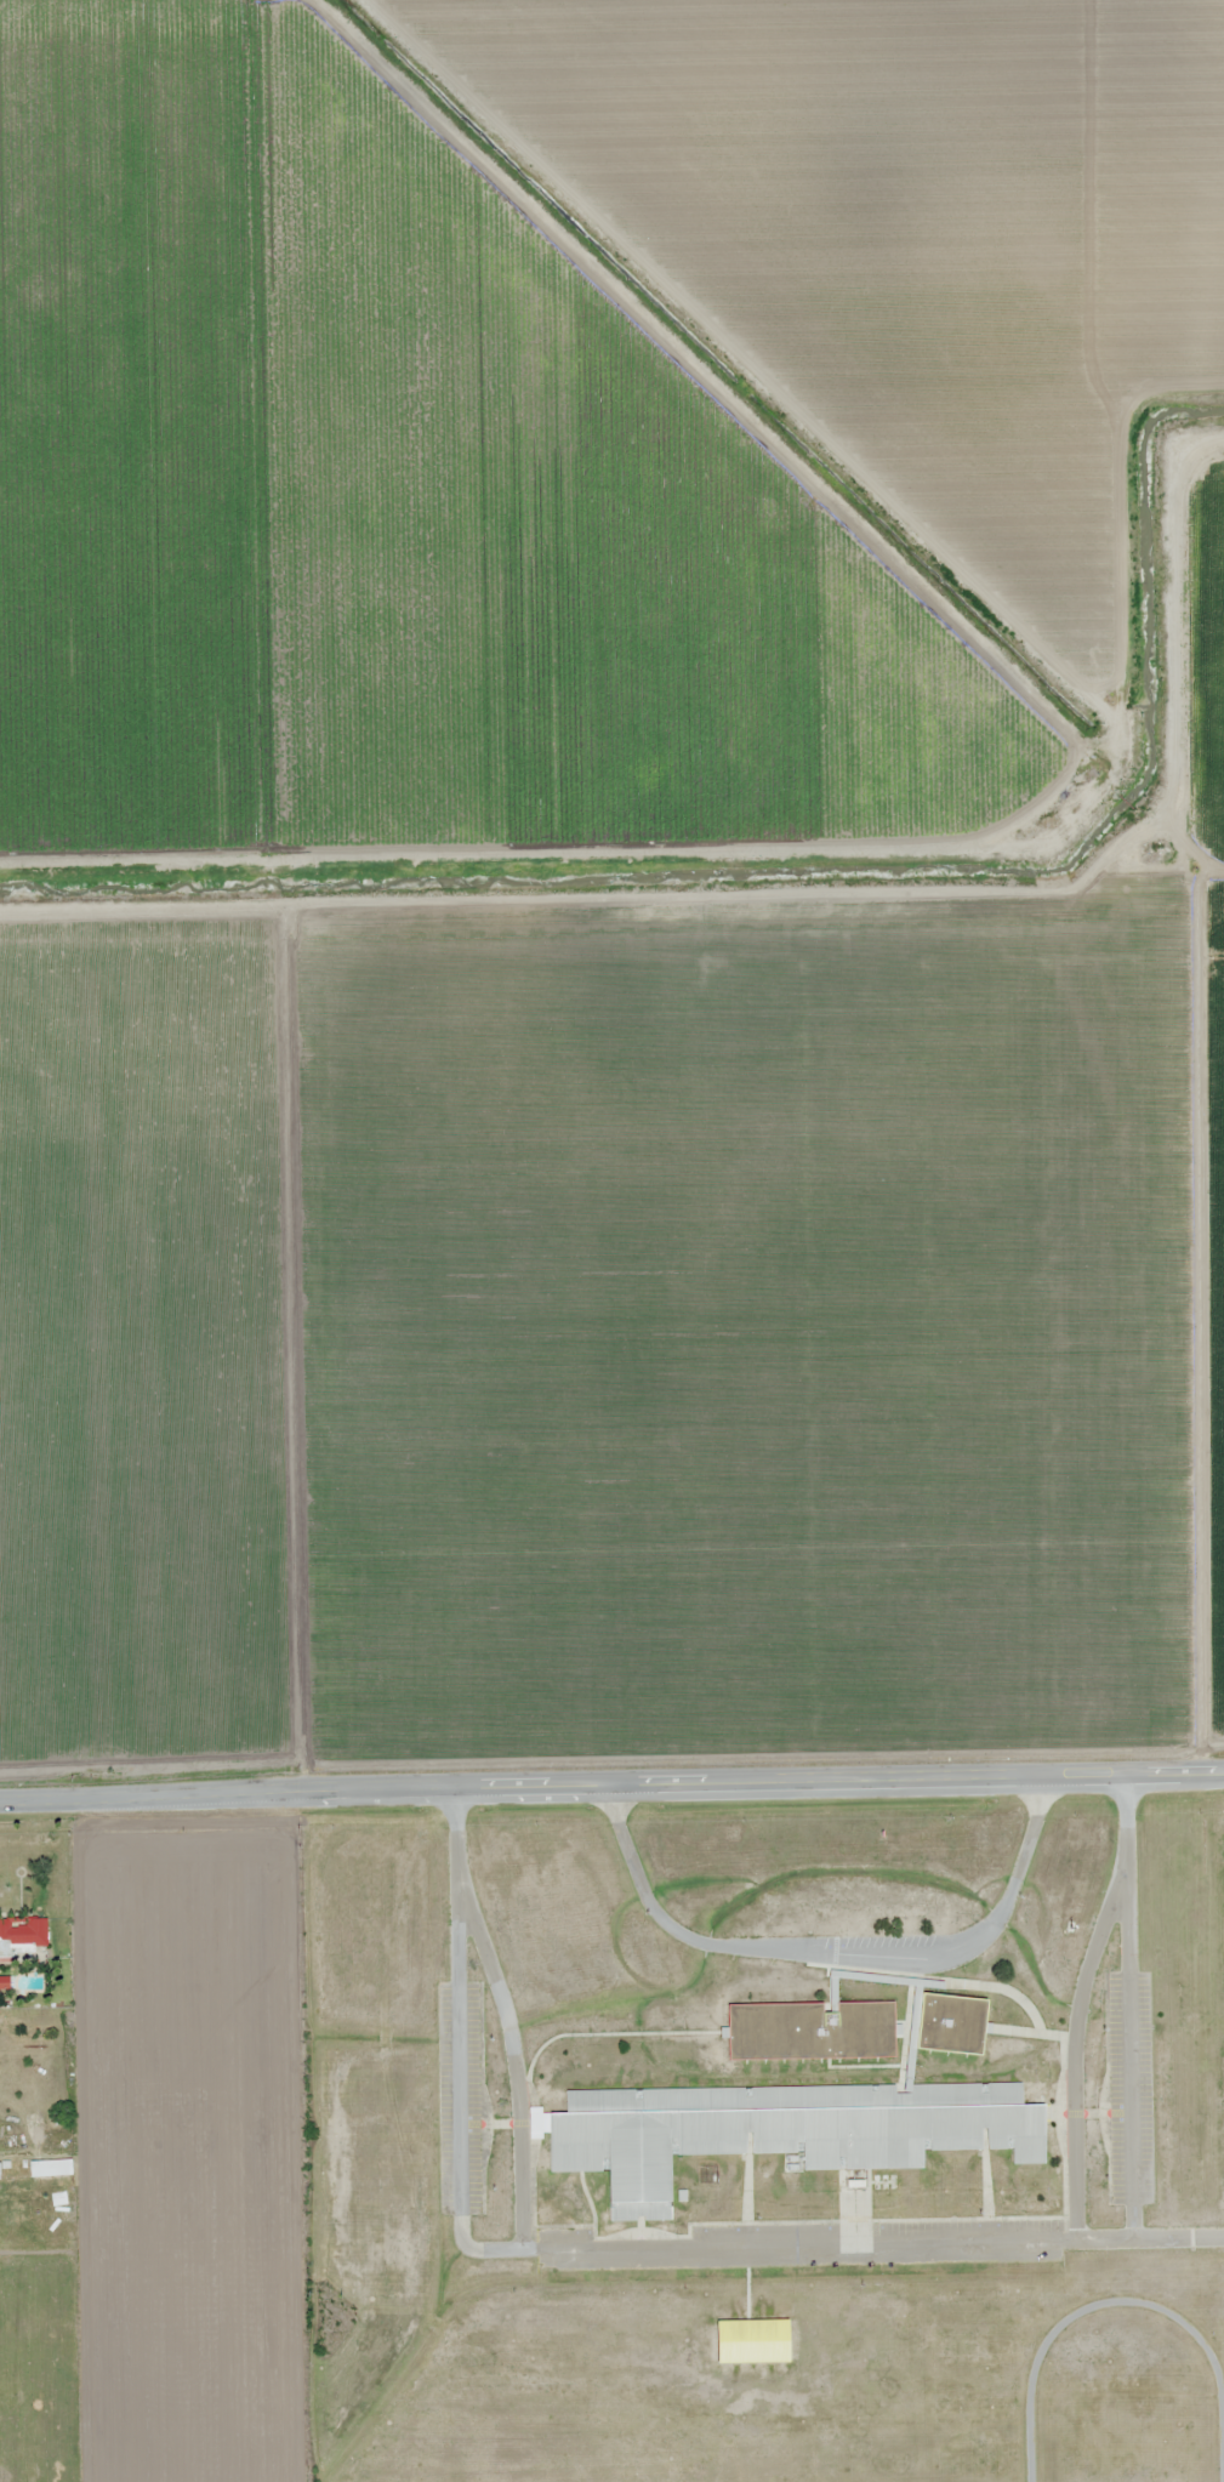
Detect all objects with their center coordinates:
railway: (1220, 149)
road: (611, 1801)
building: (23, 1932)
building: (951, 2023)
building: (813, 2028)
building: (781, 2131)
building: (50, 2168)
road: (1144, 2238)
building: (755, 2341)

